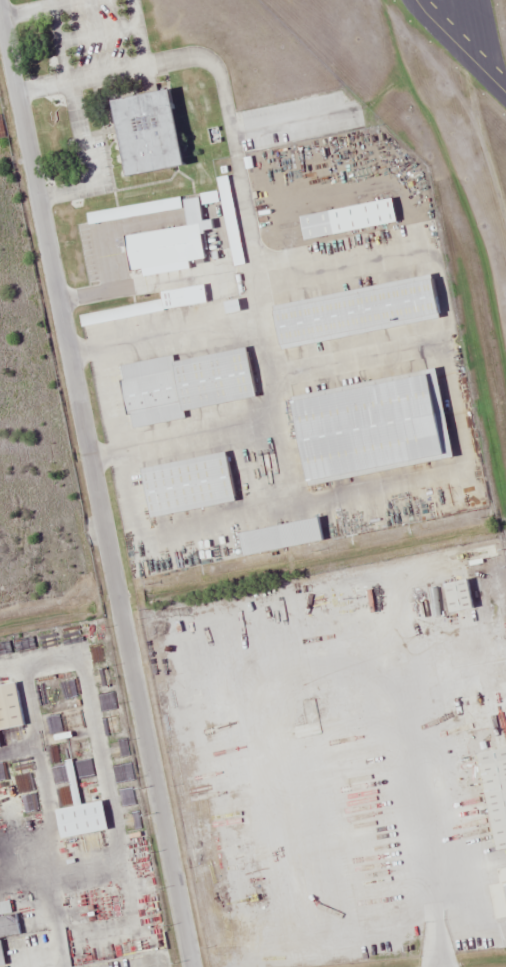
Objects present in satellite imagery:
airport taxiway: (460, 46)
building: (141, 131)
building: (115, 213)
building: (344, 218)
building: (233, 239)
building: (166, 240)
building: (354, 311)
building: (182, 384)
building: (366, 427)
airport: (304, 444)
building: (184, 483)
road: (95, 488)
building: (277, 535)
building: (8, 707)
road: (99, 754)
building: (493, 793)
building: (75, 812)
road: (16, 874)
building: (504, 892)
road: (57, 925)

